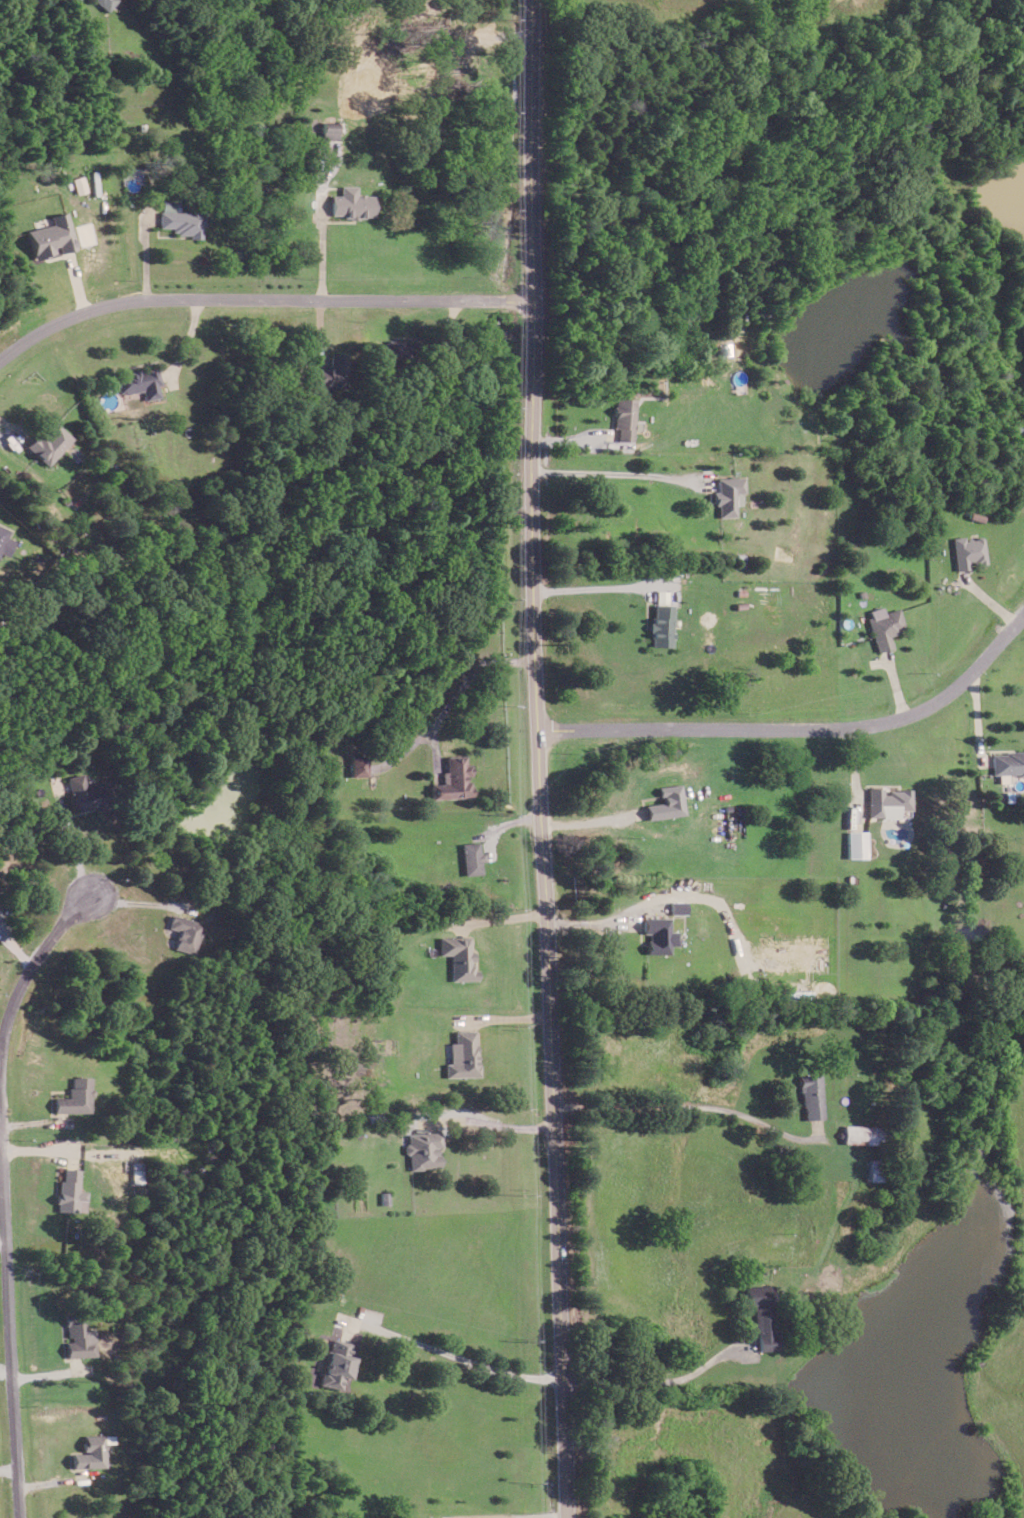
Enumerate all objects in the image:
building: (106, 3)
building: (327, 129)
building: (78, 184)
building: (351, 203)
building: (180, 219)
building: (50, 236)
road: (322, 252)
road: (257, 299)
building: (324, 375)
building: (139, 382)
building: (622, 417)
building: (49, 442)
road: (613, 473)
building: (727, 495)
building: (5, 541)
building: (967, 551)
road: (599, 588)
building: (662, 624)
building: (883, 626)
road: (462, 688)
road: (796, 730)
road: (532, 758)
building: (1008, 762)
building: (358, 764)
building: (454, 779)
building: (80, 793)
building: (887, 801)
building: (667, 803)
road: (584, 822)
road: (71, 842)
building: (856, 844)
building: (472, 857)
road: (132, 901)
building: (678, 907)
building: (185, 932)
building: (659, 934)
building: (459, 956)
building: (462, 1055)
building: (76, 1096)
building: (812, 1096)
road: (690, 1105)
road: (1, 1123)
road: (493, 1123)
building: (860, 1134)
building: (423, 1150)
building: (71, 1192)
road: (5, 1194)
building: (764, 1314)
building: (80, 1337)
road: (456, 1354)
building: (337, 1363)
road: (656, 1380)
building: (90, 1452)
road: (487, 1517)

